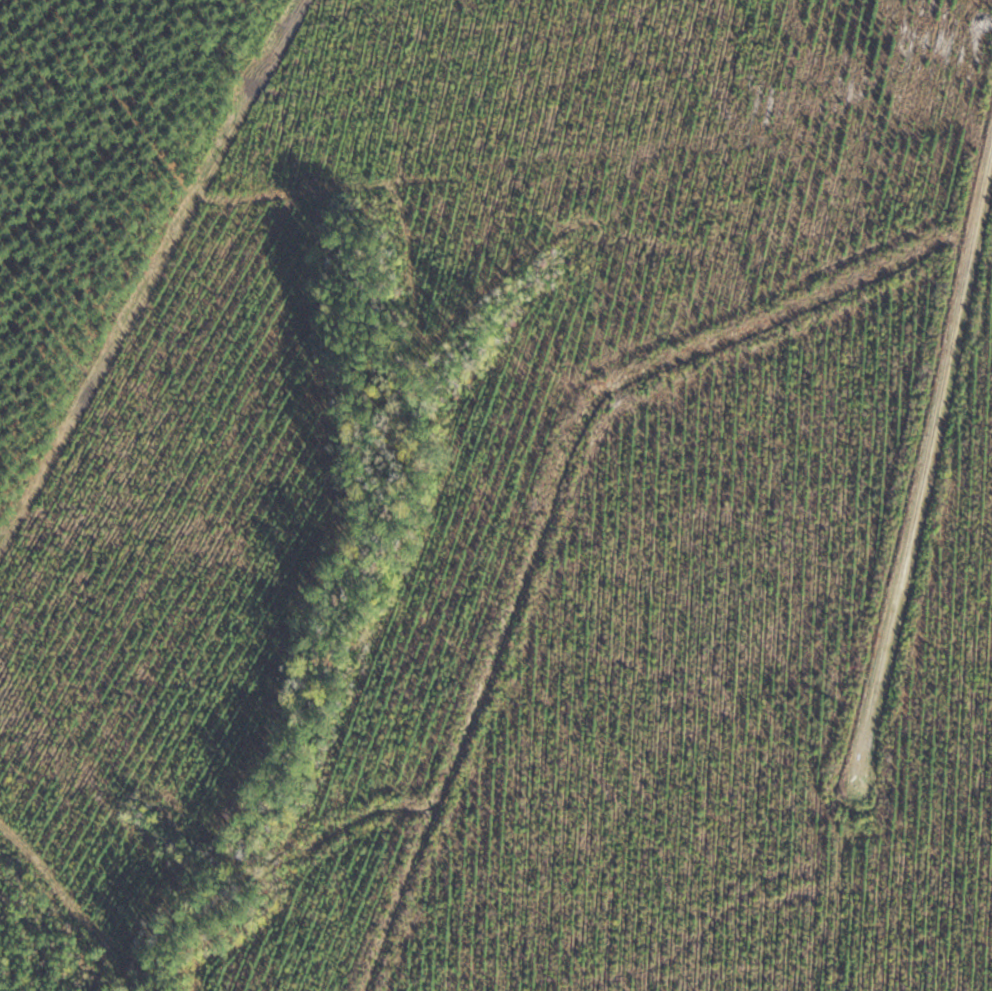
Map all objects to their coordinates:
road: (928, 472)

